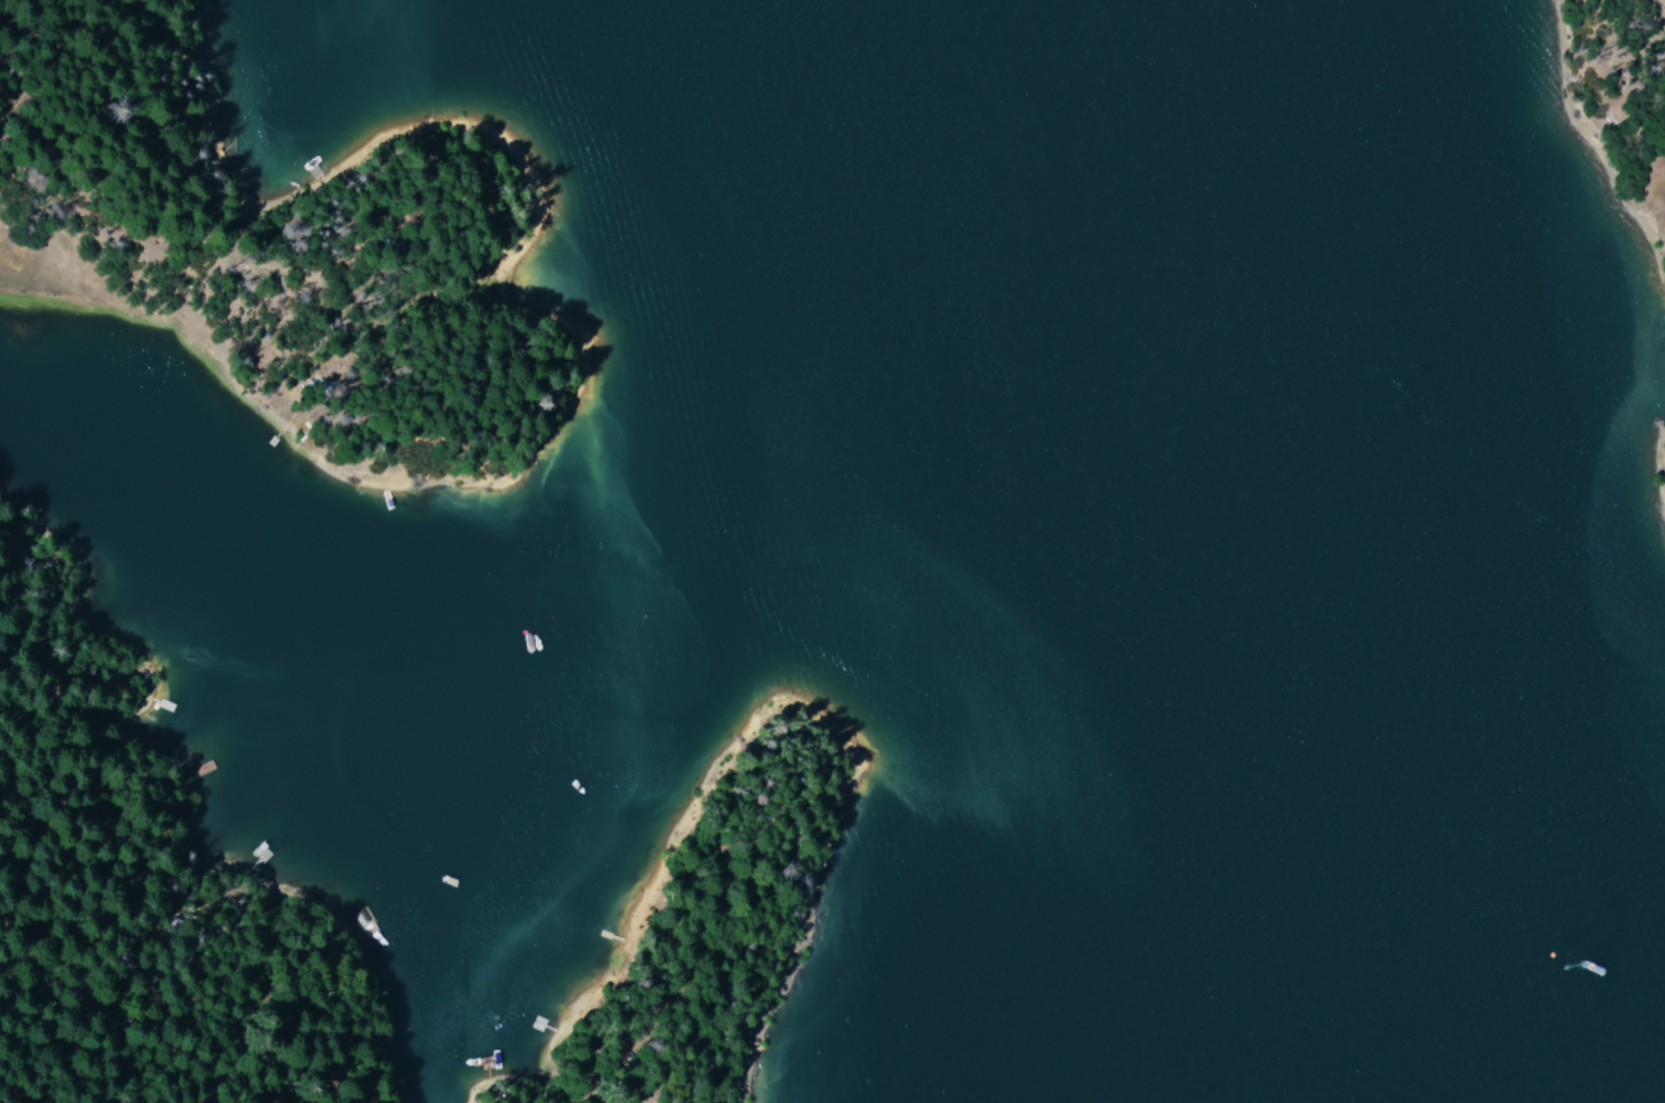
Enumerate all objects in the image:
river: (954, 120)
river: (1016, 363)
river: (1126, 807)

